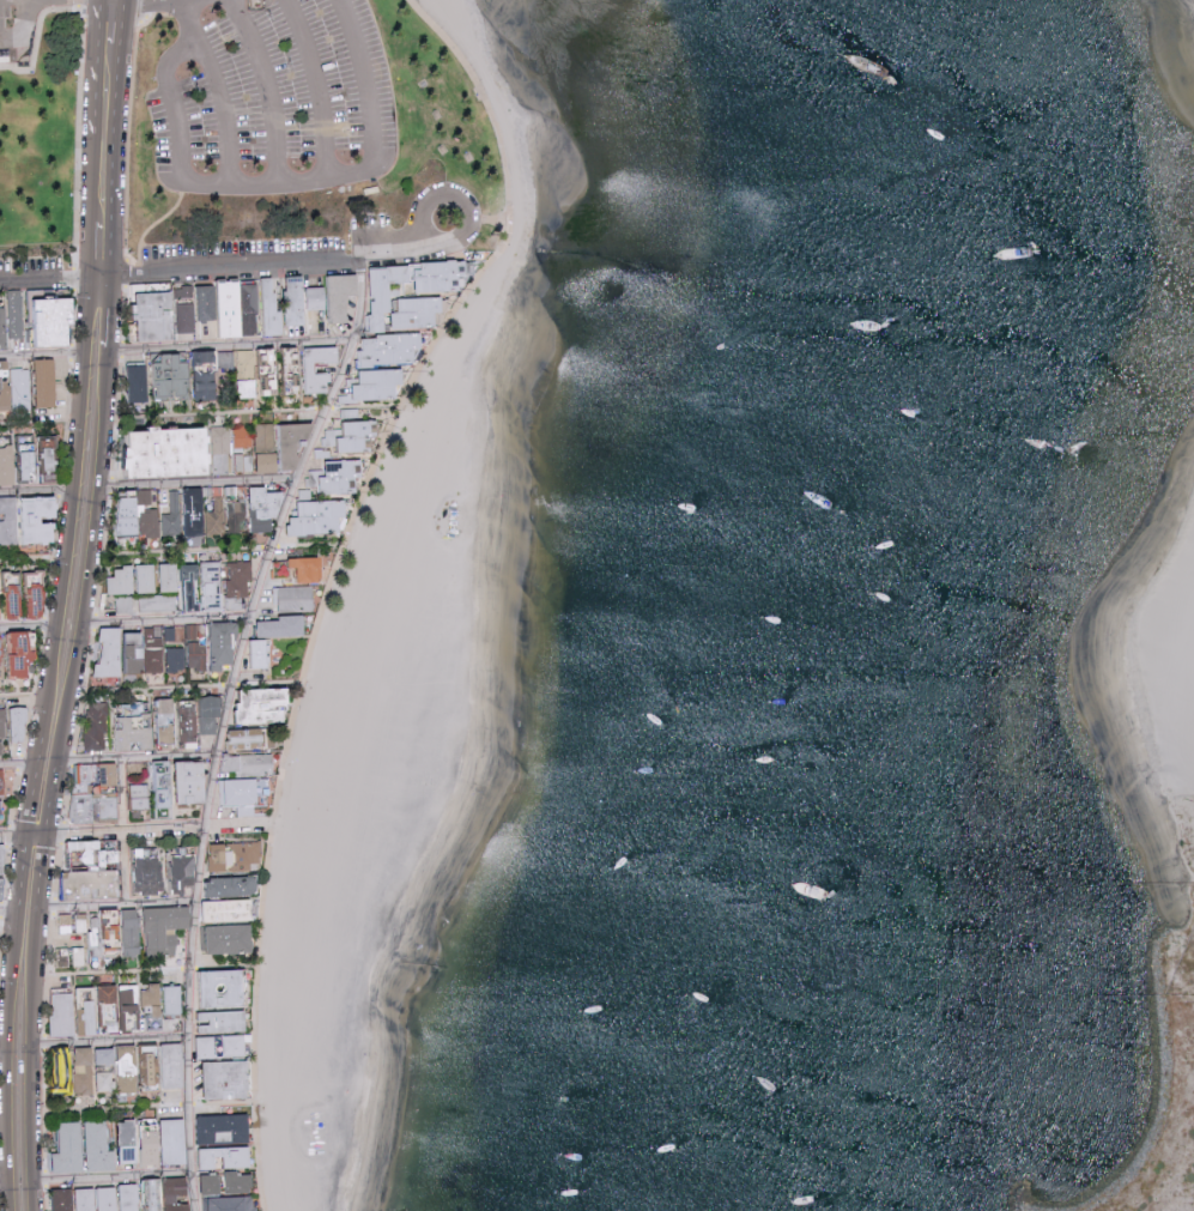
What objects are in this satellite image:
road: (177, 4)
road: (28, 18)
road: (123, 22)
parking lot: (20, 35)
road: (11, 37)
road: (192, 47)
road: (98, 66)
road: (360, 78)
road: (315, 85)
road: (266, 86)
parking lot: (277, 99)
road: (222, 110)
road: (180, 131)
park: (308, 138)
park: (41, 146)
road: (114, 159)
road: (96, 177)
road: (279, 178)
road: (466, 204)
road: (93, 249)
road: (256, 268)
road: (46, 280)
building: (335, 295)
building: (431, 297)
building: (297, 301)
building: (230, 308)
building: (272, 308)
road: (110, 313)
building: (157, 315)
building: (188, 317)
building: (11, 319)
building: (55, 320)
road: (232, 347)
building: (392, 349)
road: (44, 356)
building: (311, 367)
building: (192, 374)
building: (138, 381)
building: (47, 382)
building: (380, 383)
road: (256, 414)
road: (41, 424)
building: (243, 436)
building: (350, 436)
building: (293, 441)
building: (266, 448)
building: (172, 450)
building: (50, 459)
building: (243, 461)
building: (220, 462)
building: (7, 465)
building: (341, 476)
building: (314, 478)
road: (200, 484)
road: (38, 495)
building: (265, 507)
road: (75, 508)
building: (208, 511)
building: (139, 515)
building: (171, 515)
building: (319, 516)
building: (29, 520)
road: (220, 551)
road: (91, 557)
road: (35, 559)
building: (307, 568)
road: (340, 574)
building: (147, 577)
building: (122, 580)
building: (237, 585)
building: (293, 599)
building: (157, 603)
building: (123, 604)
road: (166, 623)
building: (283, 626)
road: (30, 629)
building: (224, 643)
building: (195, 650)
building: (17, 653)
building: (110, 653)
building: (260, 653)
road: (187, 690)
road: (25, 696)
building: (266, 704)
building: (212, 714)
building: (20, 723)
building: (189, 723)
building: (96, 726)
building: (149, 726)
road: (223, 726)
building: (2, 729)
road: (137, 759)
building: (247, 763)
road: (20, 764)
park: (1154, 764)
building: (97, 775)
building: (193, 781)
building: (163, 783)
building: (238, 791)
building: (140, 797)
building: (0, 807)
road: (30, 824)
road: (137, 830)
road: (123, 832)
road: (46, 837)
building: (218, 858)
building: (2, 860)
building: (165, 873)
building: (234, 885)
building: (2, 889)
road: (116, 907)
building: (228, 910)
road: (10, 912)
building: (73, 922)
building: (165, 928)
building: (132, 932)
building: (231, 938)
road: (145, 973)
road: (6, 980)
building: (225, 989)
building: (109, 994)
building: (151, 994)
building: (129, 1000)
building: (166, 1004)
building: (77, 1012)
building: (222, 1022)
road: (109, 1042)
building: (234, 1045)
building: (206, 1047)
road: (5, 1048)
building: (171, 1050)
building: (105, 1056)
road: (10, 1060)
road: (30, 1060)
building: (74, 1068)
building: (226, 1079)
building: (107, 1080)
road: (143, 1109)
road: (5, 1115)
building: (225, 1142)
building: (129, 1143)
building: (166, 1144)
building: (99, 1148)
building: (69, 1149)
road: (111, 1177)
road: (6, 1183)
building: (228, 1183)
building: (131, 1197)
building: (63, 1199)
building: (97, 1199)
building: (230, 1204)

